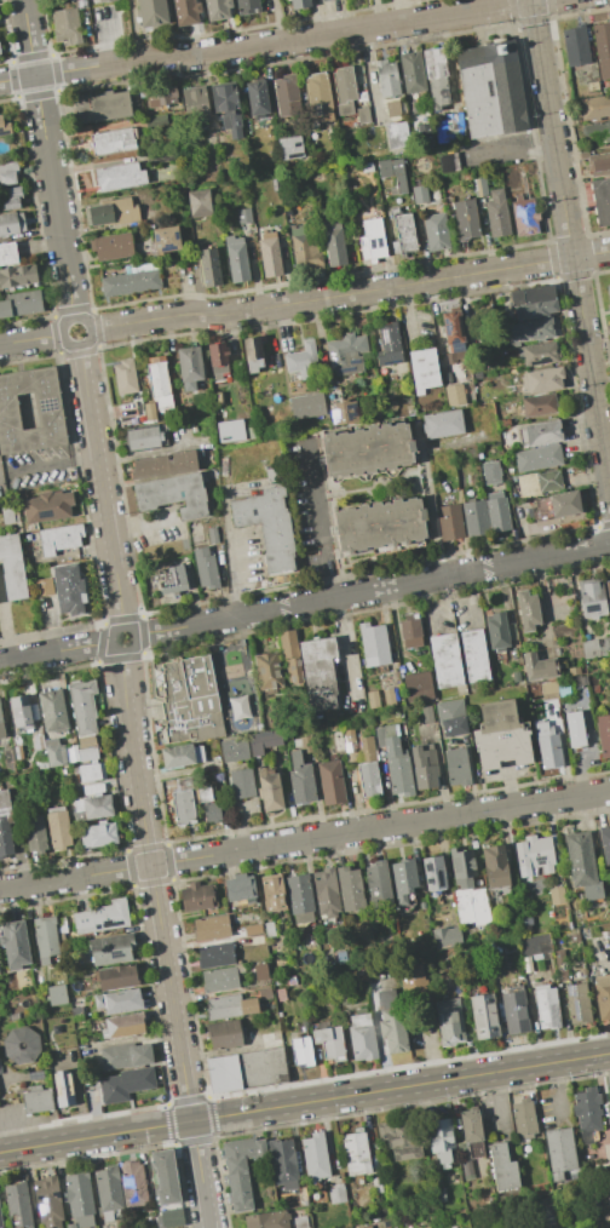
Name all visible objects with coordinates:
building: (104, 0)
building: (324, 0)
building: (81, 4)
building: (300, 4)
building: (247, 6)
building: (218, 8)
building: (185, 11)
building: (151, 12)
building: (67, 27)
road: (270, 45)
building: (575, 46)
building: (603, 48)
building: (0, 53)
building: (412, 73)
building: (436, 76)
building: (387, 78)
building: (344, 90)
building: (490, 90)
building: (287, 94)
building: (161, 96)
building: (318, 96)
building: (225, 98)
building: (257, 98)
building: (196, 105)
building: (102, 107)
building: (594, 107)
building: (391, 108)
building: (362, 115)
building: (156, 120)
building: (5, 127)
building: (449, 127)
building: (597, 130)
building: (397, 136)
building: (113, 142)
building: (290, 148)
road: (511, 151)
building: (162, 157)
road: (48, 159)
building: (447, 162)
building: (599, 163)
building: (366, 166)
building: (8, 173)
building: (392, 173)
building: (119, 177)
building: (389, 185)
building: (479, 187)
building: (420, 195)
building: (10, 199)
building: (600, 201)
building: (198, 203)
building: (111, 213)
building: (496, 213)
building: (524, 216)
building: (244, 217)
building: (465, 219)
building: (11, 224)
building: (403, 233)
building: (436, 233)
building: (166, 240)
building: (372, 240)
building: (334, 241)
road: (570, 243)
building: (111, 246)
building: (305, 249)
building: (7, 253)
building: (270, 256)
building: (236, 259)
building: (209, 268)
building: (17, 276)
building: (131, 283)
road: (350, 294)
building: (531, 294)
building: (608, 295)
building: (21, 304)
building: (535, 310)
building: (453, 331)
building: (529, 331)
road: (31, 339)
road: (79, 344)
building: (389, 344)
building: (252, 354)
building: (539, 354)
building: (346, 355)
building: (219, 361)
building: (303, 361)
building: (190, 366)
building: (424, 369)
building: (125, 378)
building: (542, 380)
building: (159, 383)
building: (455, 396)
building: (470, 401)
building: (307, 406)
building: (539, 406)
building: (340, 408)
building: (128, 409)
building: (48, 411)
building: (150, 413)
building: (442, 424)
building: (541, 434)
building: (146, 437)
building: (367, 452)
building: (537, 459)
road: (52, 463)
building: (167, 465)
building: (490, 472)
building: (272, 475)
building: (537, 483)
road: (102, 486)
building: (174, 494)
building: (47, 506)
building: (556, 506)
building: (497, 512)
building: (7, 515)
building: (474, 518)
road: (316, 521)
road: (138, 523)
building: (449, 523)
building: (269, 526)
building: (381, 527)
building: (213, 535)
building: (34, 536)
building: (28, 538)
building: (59, 539)
road: (230, 555)
building: (12, 568)
building: (206, 568)
building: (172, 581)
building: (44, 587)
building: (69, 589)
road: (370, 590)
building: (608, 590)
building: (592, 597)
building: (528, 610)
building: (496, 631)
building: (511, 631)
building: (410, 632)
building: (373, 644)
building: (595, 648)
road: (122, 650)
road: (56, 652)
building: (290, 655)
building: (474, 655)
building: (445, 660)
building: (539, 667)
building: (269, 671)
building: (318, 671)
building: (574, 671)
building: (516, 677)
building: (580, 682)
building: (418, 685)
building: (549, 690)
building: (389, 698)
building: (373, 699)
building: (189, 700)
building: (82, 706)
building: (237, 707)
building: (21, 711)
building: (53, 711)
building: (427, 715)
building: (451, 717)
building: (1, 727)
building: (575, 729)
building: (603, 734)
building: (501, 735)
building: (87, 741)
building: (39, 742)
building: (264, 742)
building: (304, 744)
building: (350, 746)
building: (547, 746)
building: (368, 748)
building: (234, 750)
building: (54, 752)
building: (18, 753)
building: (88, 753)
building: (182, 756)
building: (396, 761)
building: (425, 765)
building: (456, 767)
building: (90, 771)
building: (369, 779)
building: (300, 780)
building: (330, 780)
building: (182, 782)
building: (242, 784)
building: (269, 790)
building: (205, 793)
building: (92, 807)
building: (183, 808)
building: (212, 813)
building: (5, 825)
building: (58, 828)
building: (35, 833)
building: (102, 834)
road: (304, 839)
building: (605, 843)
building: (535, 853)
building: (495, 866)
building: (462, 867)
building: (583, 867)
building: (433, 873)
building: (378, 884)
building: (404, 884)
building: (240, 889)
building: (350, 889)
building: (326, 890)
building: (272, 891)
building: (557, 895)
building: (197, 896)
building: (300, 896)
building: (422, 905)
building: (102, 917)
building: (62, 925)
building: (211, 928)
building: (253, 929)
building: (269, 930)
building: (447, 937)
building: (575, 937)
road: (162, 939)
building: (605, 940)
building: (47, 941)
building: (419, 941)
building: (535, 943)
building: (15, 945)
building: (511, 946)
building: (111, 948)
building: (215, 956)
building: (444, 959)
building: (560, 964)
building: (592, 966)
building: (372, 972)
building: (263, 975)
building: (116, 977)
building: (221, 979)
building: (413, 980)
building: (277, 981)
building: (264, 993)
building: (57, 995)
building: (603, 995)
building: (119, 1002)
building: (577, 1003)
building: (221, 1006)
building: (249, 1006)
building: (546, 1008)
building: (516, 1011)
building: (76, 1014)
building: (484, 1016)
building: (391, 1022)
building: (449, 1022)
building: (123, 1026)
building: (225, 1034)
building: (362, 1035)
building: (270, 1040)
building: (328, 1040)
building: (21, 1045)
building: (301, 1049)
building: (125, 1056)
building: (0, 1069)
building: (246, 1071)
building: (36, 1075)
building: (92, 1083)
building: (126, 1084)
building: (63, 1089)
road: (559, 1089)
building: (609, 1091)
building: (96, 1096)
building: (38, 1100)
road: (304, 1102)
building: (587, 1113)
building: (523, 1119)
building: (472, 1132)
building: (441, 1138)
building: (398, 1140)
building: (356, 1152)
building: (560, 1152)
building: (315, 1155)
building: (465, 1160)
building: (282, 1163)
building: (502, 1167)
building: (241, 1169)
building: (165, 1176)
building: (132, 1183)
building: (376, 1184)
building: (109, 1190)
building: (338, 1195)
building: (608, 1197)
building: (80, 1199)
building: (48, 1201)
building: (18, 1203)
building: (546, 1211)
building: (167, 1218)
building: (267, 1220)
building: (299, 1221)
building: (0, 1222)
building: (69, 1226)
building: (363, 1227)

